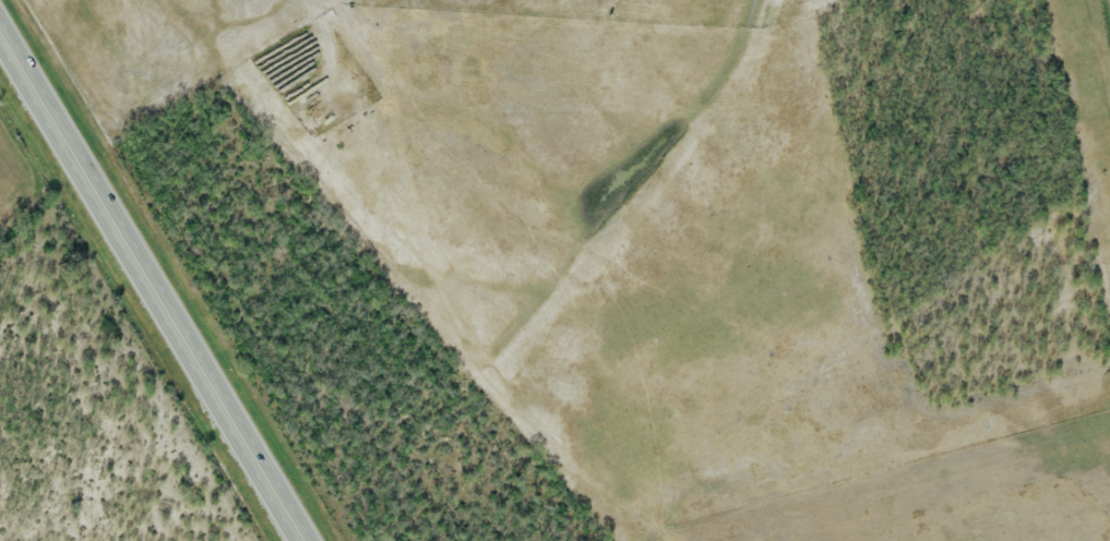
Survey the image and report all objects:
road: (152, 285)

